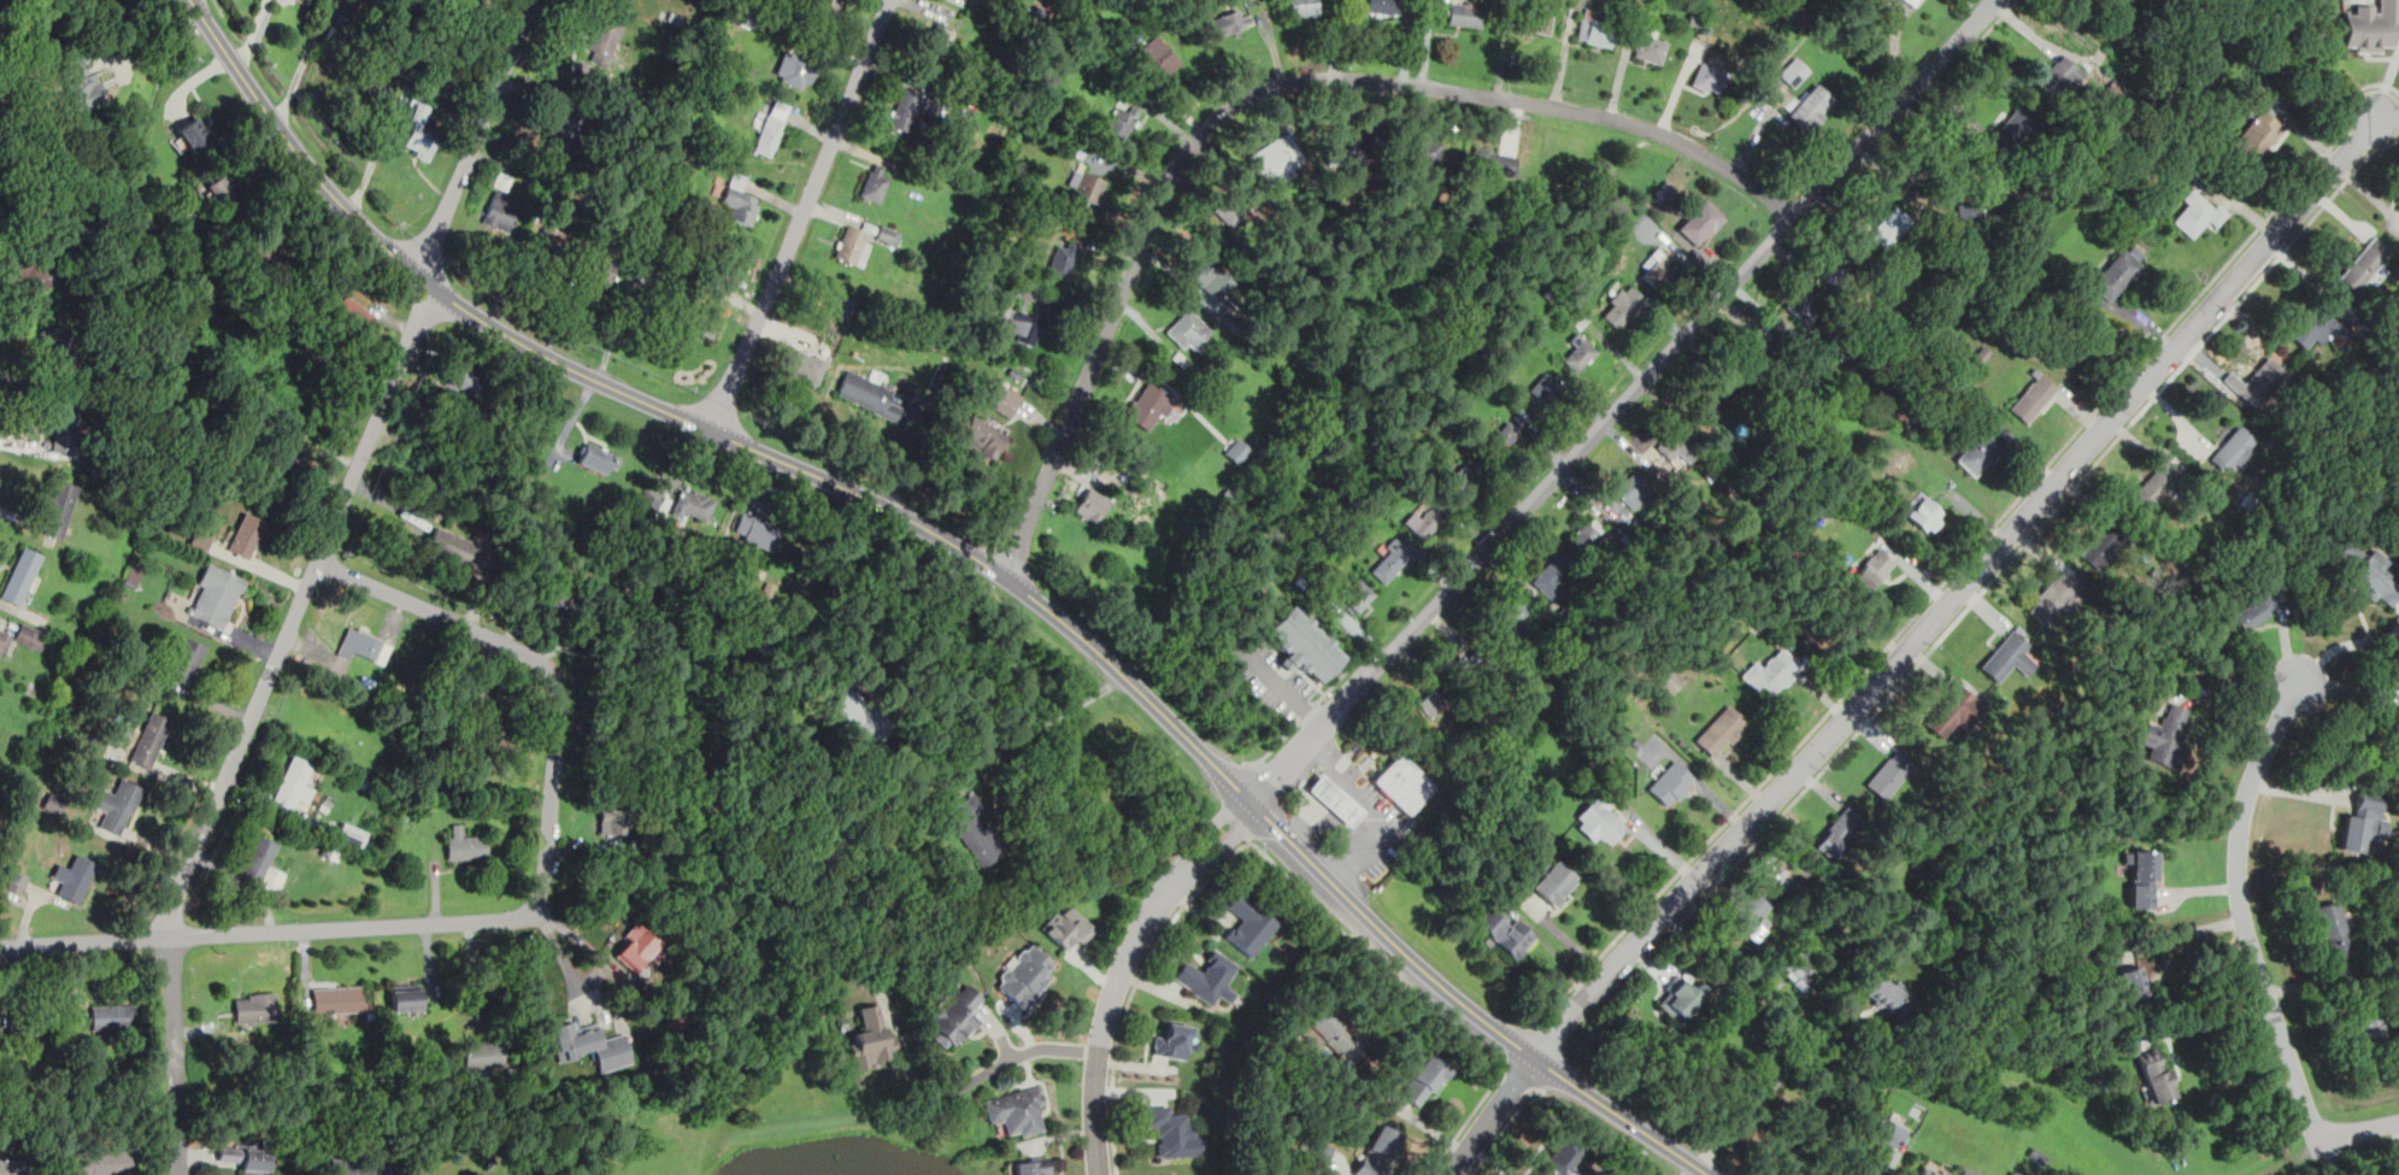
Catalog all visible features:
building: (1913, 2)
building: (1, 4)
building: (2118, 4)
building: (1383, 6)
building: (822, 7)
building: (1304, 7)
building: (1464, 13)
building: (1046, 14)
building: (1537, 18)
building: (1233, 20)
street lamp: (506, 24)
building: (2368, 25)
building: (1597, 31)
road: (253, 35)
building: (602, 36)
building: (936, 41)
building: (336, 42)
building: (1650, 45)
building: (1156, 57)
road: (2330, 66)
road: (299, 67)
building: (407, 69)
building: (798, 70)
building: (1794, 71)
building: (2060, 76)
building: (1709, 78)
building: (2199, 81)
building: (81, 84)
building: (446, 86)
road: (2387, 86)
building: (2189, 88)
building: (2256, 89)
road: (1264, 90)
building: (371, 93)
building: (1812, 106)
building: (907, 110)
building: (1122, 121)
building: (771, 127)
building: (421, 130)
building: (563, 130)
building: (2011, 130)
building: (196, 135)
building: (2257, 135)
building: (31, 147)
building: (1345, 147)
building: (1425, 151)
building: (1276, 159)
building: (1493, 163)
building: (502, 180)
building: (875, 182)
building: (1089, 187)
building: (225, 190)
building: (2165, 190)
building: (740, 199)
building: (1235, 202)
building: (1, 205)
building: (2398, 206)
building: (1978, 208)
building: (501, 211)
building: (2198, 211)
road: (802, 216)
building: (1699, 219)
street lamp: (395, 225)
building: (1888, 227)
building: (889, 235)
building: (551, 243)
building: (849, 243)
building: (270, 257)
building: (1062, 259)
building: (2365, 263)
building: (1658, 268)
building: (1836, 268)
building: (600, 270)
building: (31, 272)
building: (1210, 274)
building: (2115, 275)
building: (987, 280)
building: (648, 300)
building: (840, 305)
building: (1621, 306)
building: (1804, 306)
building: (355, 312)
building: (702, 319)
building: (47, 321)
building: (2315, 323)
building: (1028, 325)
building: (1188, 329)
building: (59, 346)
building: (2391, 348)
building: (1578, 351)
building: (1982, 353)
building: (1753, 356)
building: (805, 365)
building: (463, 381)
building: (2257, 382)
building: (869, 393)
building: (1542, 394)
building: (2031, 396)
building: (1705, 398)
building: (1006, 400)
road: (1623, 400)
building: (1147, 405)
road: (699, 422)
building: (1719, 422)
building: (64, 425)
building: (2324, 433)
building: (983, 436)
building: (1505, 437)
building: (1671, 442)
building: (1981, 448)
building: (2236, 448)
building: (1236, 450)
building: (106, 453)
building: (599, 458)
building: (282, 466)
building: (1464, 478)
building: (2157, 484)
building: (1634, 488)
building: (1893, 490)
building: (2206, 492)
building: (2252, 500)
building: (648, 501)
building: (692, 504)
building: (1092, 505)
building: (59, 510)
building: (1927, 513)
building: (1422, 521)
building: (755, 529)
building: (246, 534)
building: (1590, 537)
building: (200, 540)
building: (2258, 540)
building: (2099, 546)
building: (457, 548)
road: (1970, 551)
building: (1390, 560)
building: (1874, 569)
building: (2366, 571)
building: (22, 575)
building: (1554, 575)
road: (310, 580)
road: (1983, 589)
building: (555, 593)
building: (216, 595)
building: (1358, 595)
building: (2053, 597)
building: (2256, 605)
building: (1511, 615)
building: (31, 635)
building: (4, 641)
building: (360, 641)
building: (1304, 642)
road: (1912, 646)
road: (2342, 646)
building: (2009, 656)
building: (186, 659)
building: (1470, 662)
road: (1300, 669)
road: (1276, 671)
building: (1770, 672)
parking lot: (1274, 678)
road: (1339, 678)
road: (1321, 681)
building: (1670, 682)
road: (1282, 685)
building: (1430, 703)
building: (859, 711)
road: (1307, 711)
building: (1954, 711)
building: (487, 713)
road: (1027, 728)
building: (1721, 730)
building: (2166, 734)
building: (149, 739)
building: (2395, 740)
road: (1275, 746)
building: (1604, 759)
road: (1260, 762)
building: (1891, 772)
building: (1406, 782)
building: (294, 783)
building: (1671, 783)
building: (1336, 799)
gas station: (1336, 799)
building: (118, 805)
building: (1598, 818)
building: (611, 821)
building: (2364, 822)
road: (1298, 824)
building: (976, 829)
road: (1245, 833)
building: (1840, 833)
building: (351, 834)
road: (1200, 839)
road: (1250, 840)
building: (465, 844)
road: (1369, 845)
road: (1217, 853)
building: (261, 864)
road: (1351, 870)
building: (75, 876)
building: (2142, 877)
building: (16, 880)
building: (1556, 882)
building: (1751, 912)
road: (2241, 912)
road: (517, 920)
building: (1248, 924)
building: (1068, 926)
road: (1165, 928)
building: (2330, 929)
building: (1504, 930)
road: (2175, 932)
building: (639, 947)
building: (1799, 967)
road: (475, 973)
building: (1024, 975)
building: (1206, 977)
building: (2132, 983)
building: (1888, 995)
building: (406, 997)
building: (1681, 997)
building: (337, 998)
road: (1466, 1005)
building: (254, 1006)
road: (2213, 1015)
building: (954, 1016)
building: (113, 1017)
building: (24, 1021)
building: (676, 1021)
road: (1537, 1024)
road: (1104, 1027)
building: (1324, 1029)
building: (2369, 1029)
road: (1553, 1035)
building: (870, 1041)
building: (1172, 1041)
building: (590, 1045)
building: (482, 1054)
road: (1016, 1057)
road: (1503, 1059)
road: (1504, 1065)
building: (2156, 1074)
road: (1522, 1075)
building: (1425, 1080)
road: (1760, 1099)
building: (1017, 1111)
road: (1472, 1114)
road: (1504, 1128)
building: (1884, 1130)
road: (2360, 1130)
building: (1174, 1132)
building: (1319, 1148)
building: (1377, 1151)
building: (249, 1158)
building: (1559, 1158)
building: (102, 1162)
road: (1891, 1163)
building: (1030, 1165)
building: (11, 1167)
building: (348, 1168)
building: (1931, 1169)
road: (1694, 1170)
building: (1570, 1171)
building: (1968, 1171)
building: (2013, 1173)

